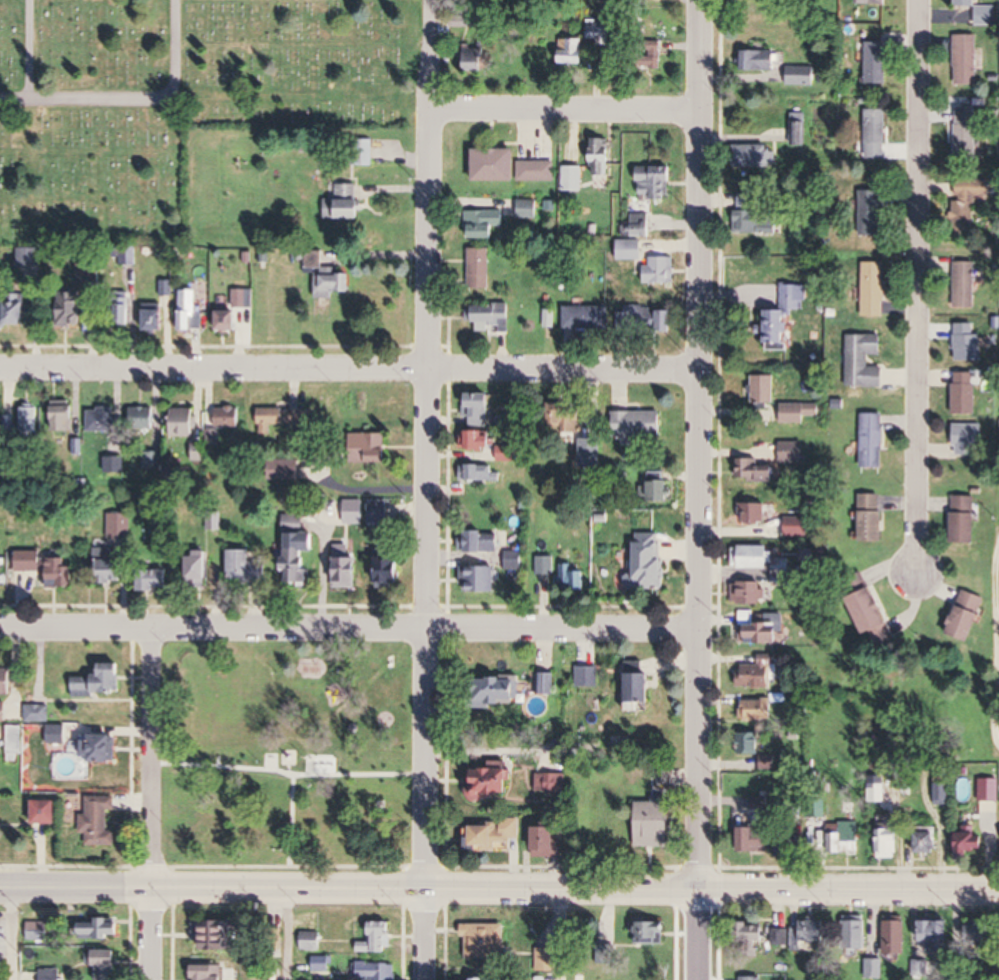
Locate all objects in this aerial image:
building: (874, 2)
building: (979, 12)
building: (584, 45)
road: (30, 51)
building: (965, 60)
building: (474, 61)
building: (760, 61)
building: (876, 65)
building: (801, 76)
road: (151, 99)
park: (170, 99)
road: (15, 102)
road: (558, 109)
building: (799, 129)
building: (876, 134)
building: (964, 134)
building: (602, 157)
building: (511, 167)
building: (573, 178)
building: (654, 182)
building: (968, 202)
building: (345, 204)
building: (528, 209)
building: (872, 213)
building: (757, 221)
building: (484, 224)
building: (641, 225)
building: (632, 250)
building: (480, 268)
building: (660, 270)
building: (333, 282)
building: (965, 285)
road: (914, 287)
building: (871, 289)
building: (17, 308)
building: (70, 308)
building: (191, 309)
building: (237, 309)
building: (786, 313)
building: (121, 315)
building: (154, 316)
building: (586, 317)
building: (492, 318)
building: (548, 318)
building: (667, 321)
building: (969, 342)
building: (864, 360)
road: (347, 369)
building: (765, 388)
building: (966, 393)
building: (479, 406)
building: (800, 412)
building: (64, 417)
building: (229, 417)
building: (278, 418)
building: (29, 419)
building: (104, 420)
building: (143, 420)
building: (184, 422)
building: (637, 424)
building: (477, 439)
building: (969, 439)
building: (873, 440)
building: (368, 448)
building: (198, 451)
building: (792, 452)
building: (506, 453)
building: (114, 464)
building: (281, 470)
building: (756, 472)
building: (482, 473)
road: (427, 489)
building: (659, 489)
road: (695, 489)
building: (354, 513)
building: (378, 513)
building: (754, 513)
building: (873, 517)
building: (966, 519)
building: (294, 523)
building: (797, 526)
building: (119, 528)
building: (482, 541)
building: (752, 556)
building: (515, 560)
building: (649, 561)
building: (110, 565)
building: (299, 565)
building: (546, 565)
building: (48, 567)
building: (782, 567)
building: (246, 568)
building: (346, 568)
building: (198, 570)
building: (390, 571)
building: (478, 578)
building: (571, 578)
building: (155, 580)
building: (752, 593)
building: (968, 615)
building: (873, 616)
road: (347, 629)
building: (762, 632)
road: (994, 651)
building: (759, 672)
building: (7, 681)
building: (100, 682)
building: (498, 691)
building: (639, 691)
building: (761, 709)
building: (0, 712)
building: (14, 741)
building: (751, 743)
building: (100, 748)
park: (287, 757)
building: (769, 763)
building: (491, 784)
building: (551, 785)
building: (989, 791)
road: (151, 803)
building: (46, 812)
building: (99, 822)
building: (657, 824)
building: (493, 837)
building: (757, 839)
building: (797, 839)
building: (549, 841)
building: (844, 841)
building: (927, 842)
building: (974, 843)
building: (890, 844)
road: (213, 888)
road: (712, 889)
building: (101, 928)
building: (37, 930)
building: (654, 933)
road: (284, 934)
road: (562, 934)
building: (755, 934)
building: (809, 934)
road: (9, 935)
building: (216, 935)
building: (858, 935)
building: (938, 936)
building: (780, 937)
building: (896, 938)
building: (379, 939)
building: (312, 941)
building: (486, 942)
building: (547, 960)
building: (106, 964)
building: (322, 964)
building: (874, 968)
building: (375, 971)
building: (211, 972)
building: (50, 974)
building: (752, 978)
building: (482, 979)

